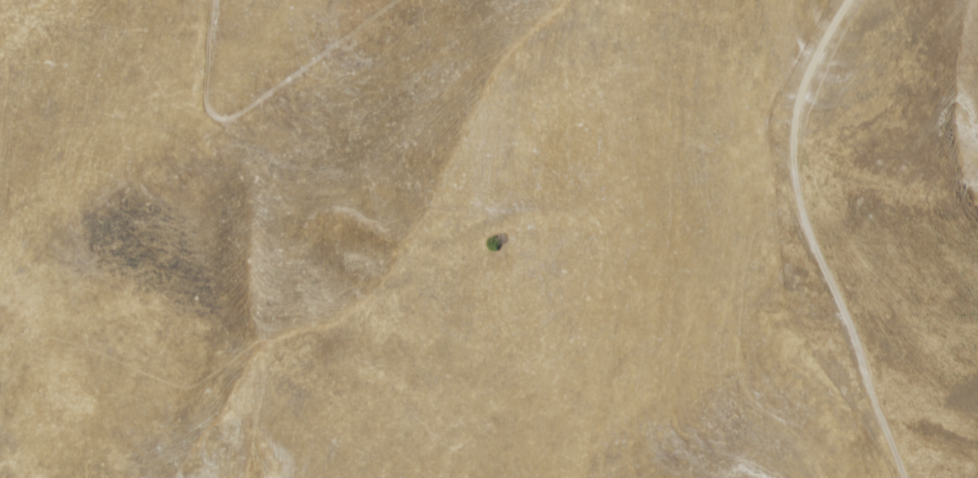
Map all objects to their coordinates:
road: (814, 238)

